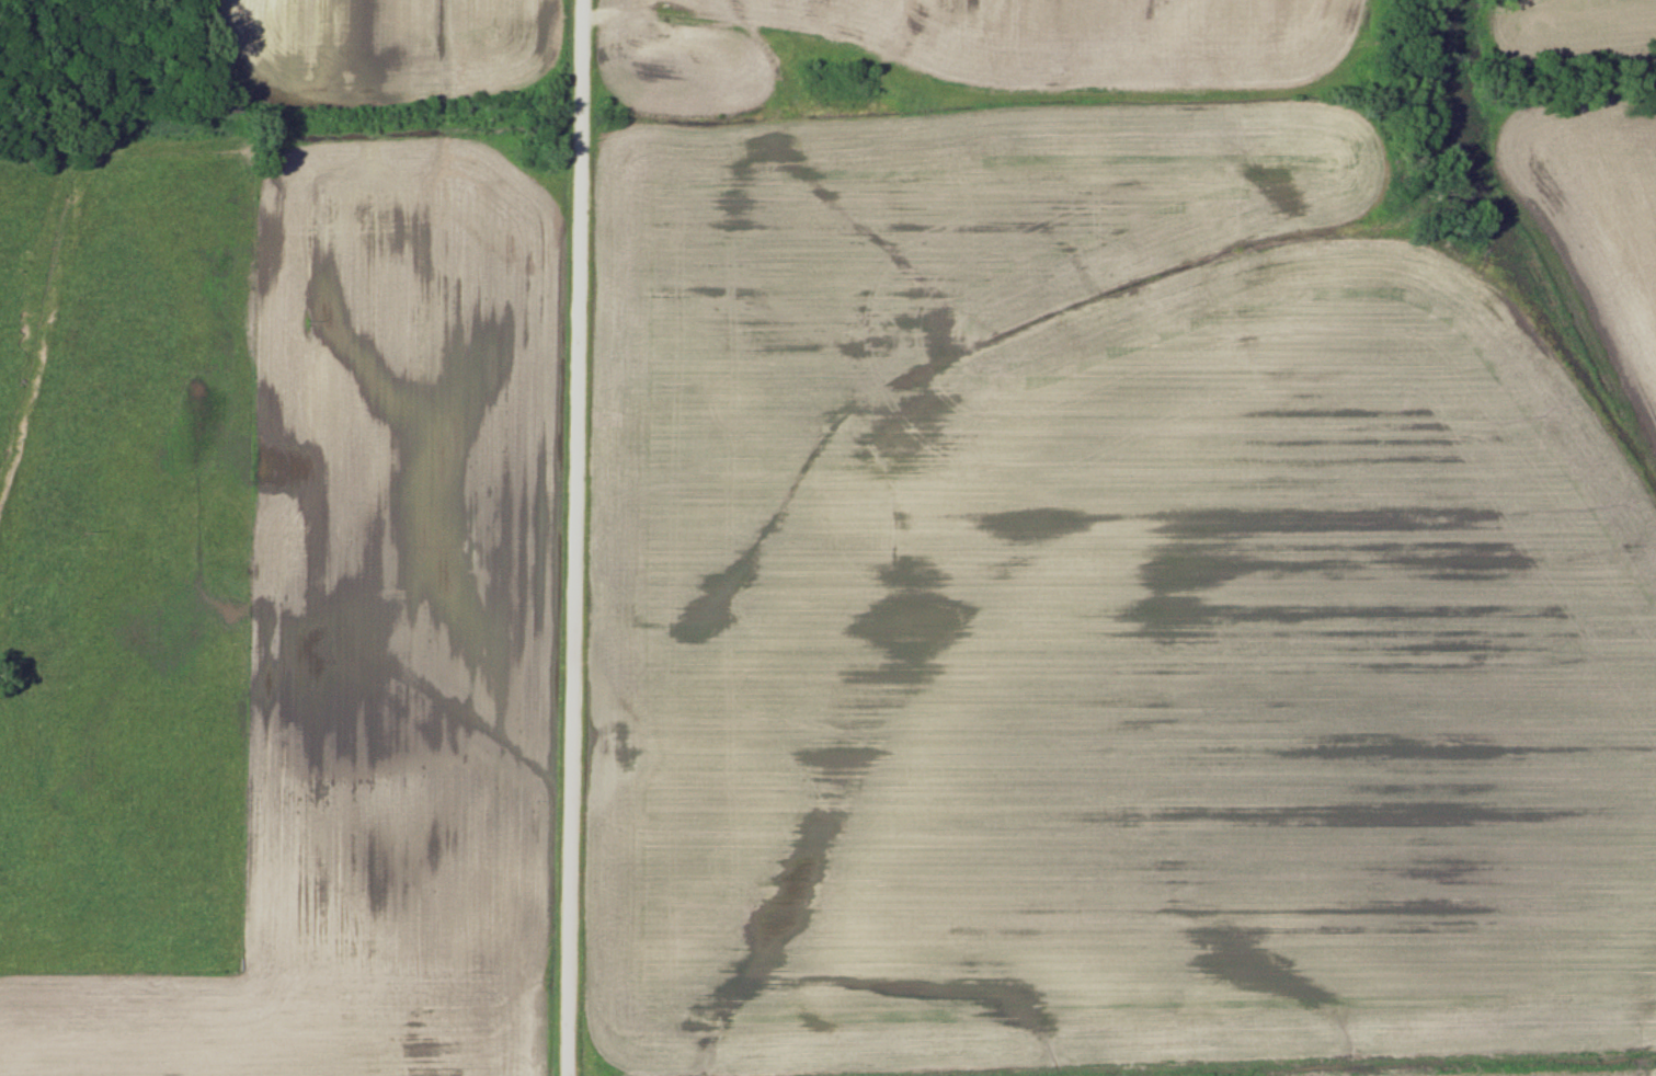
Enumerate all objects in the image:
road: (576, 538)
crop: (1096, 613)

